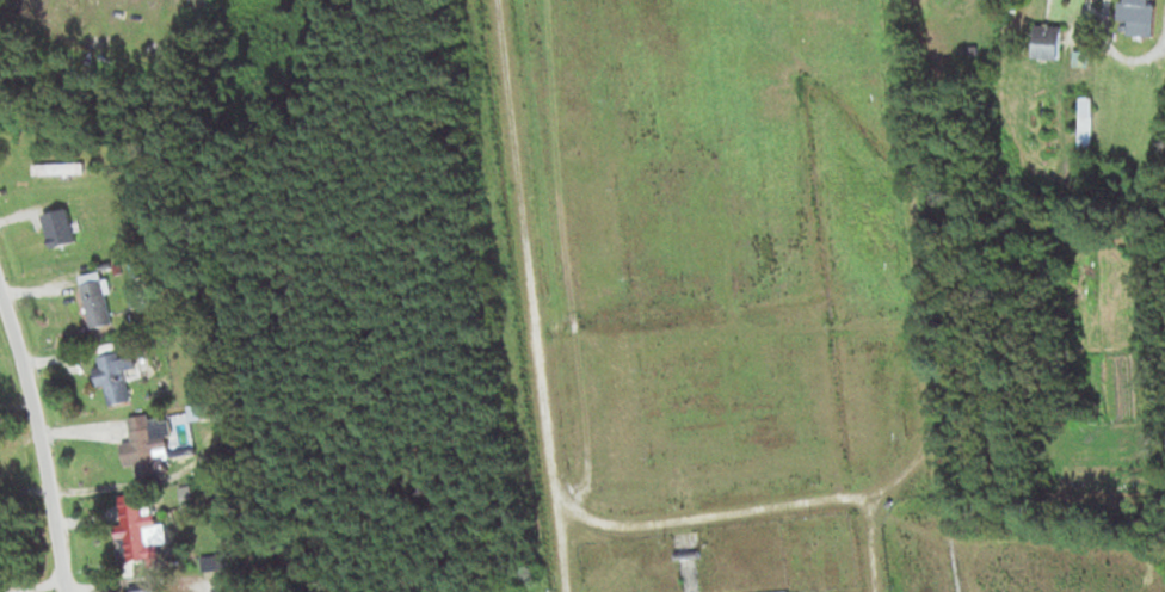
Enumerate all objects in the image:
building: (1133, 16)
building: (1046, 42)
building: (1084, 106)
building: (58, 167)
building: (84, 265)
building: (155, 270)
building: (91, 275)
building: (136, 298)
building: (98, 300)
building: (113, 370)
building: (207, 409)
road: (39, 445)
building: (147, 446)
road: (741, 486)
building: (141, 526)
road: (879, 536)
building: (144, 585)
road: (35, 587)

